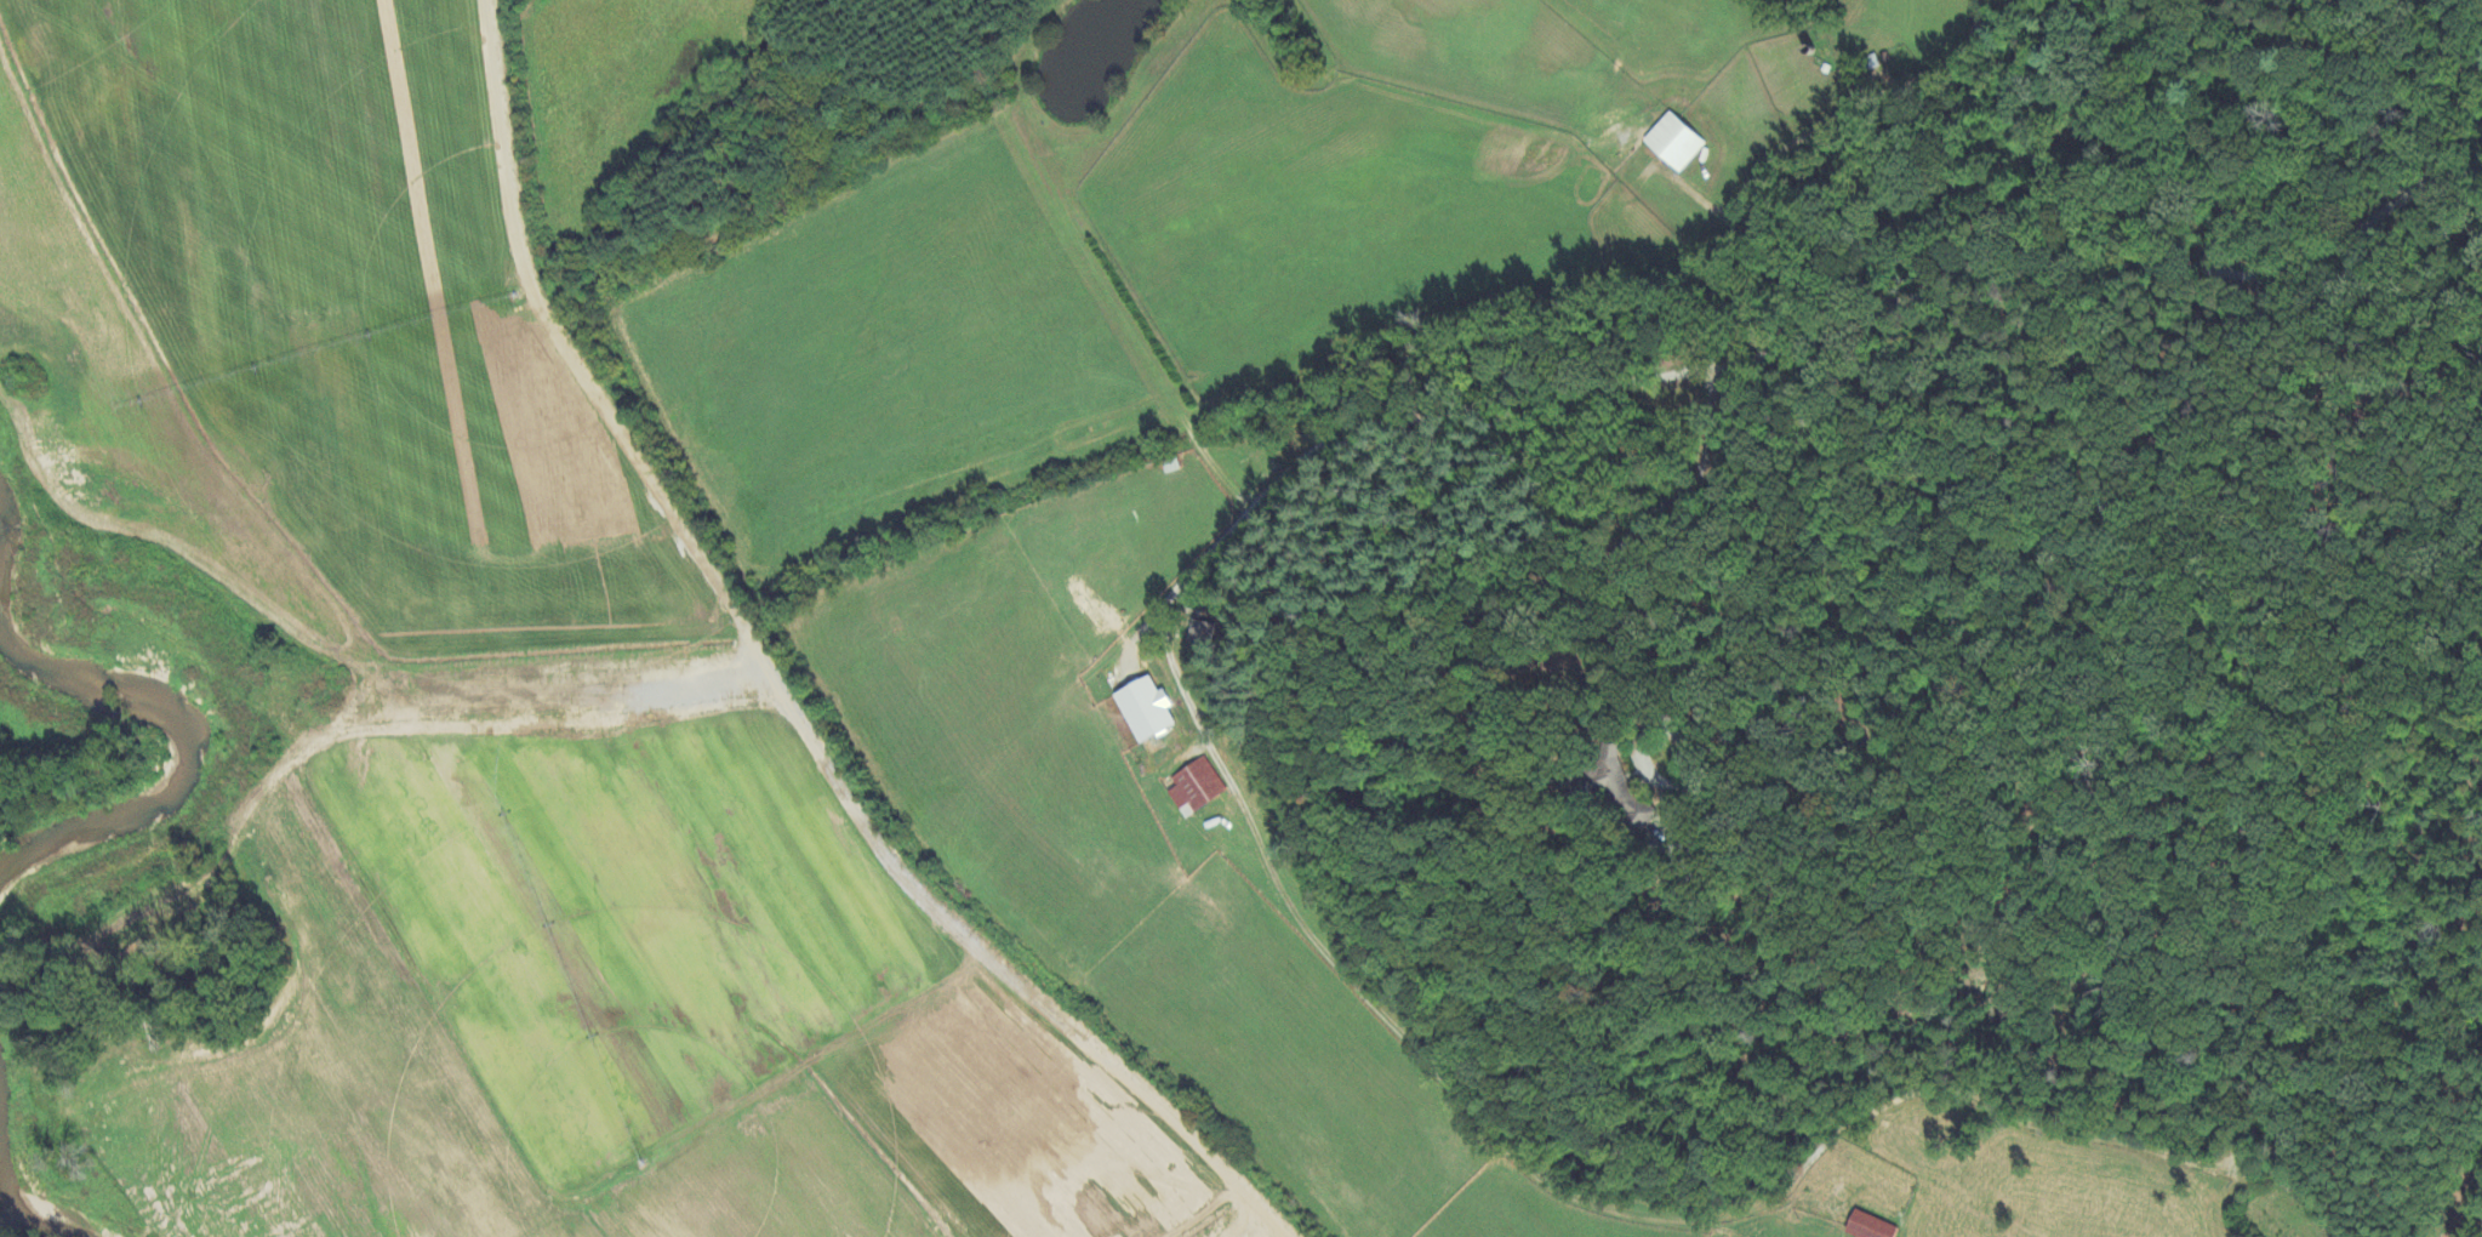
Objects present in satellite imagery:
road: (1712, 364)
road: (1225, 479)
road: (1682, 668)
river: (188, 756)
river: (7, 1188)
road: (2461, 1195)
building: (1866, 1227)

